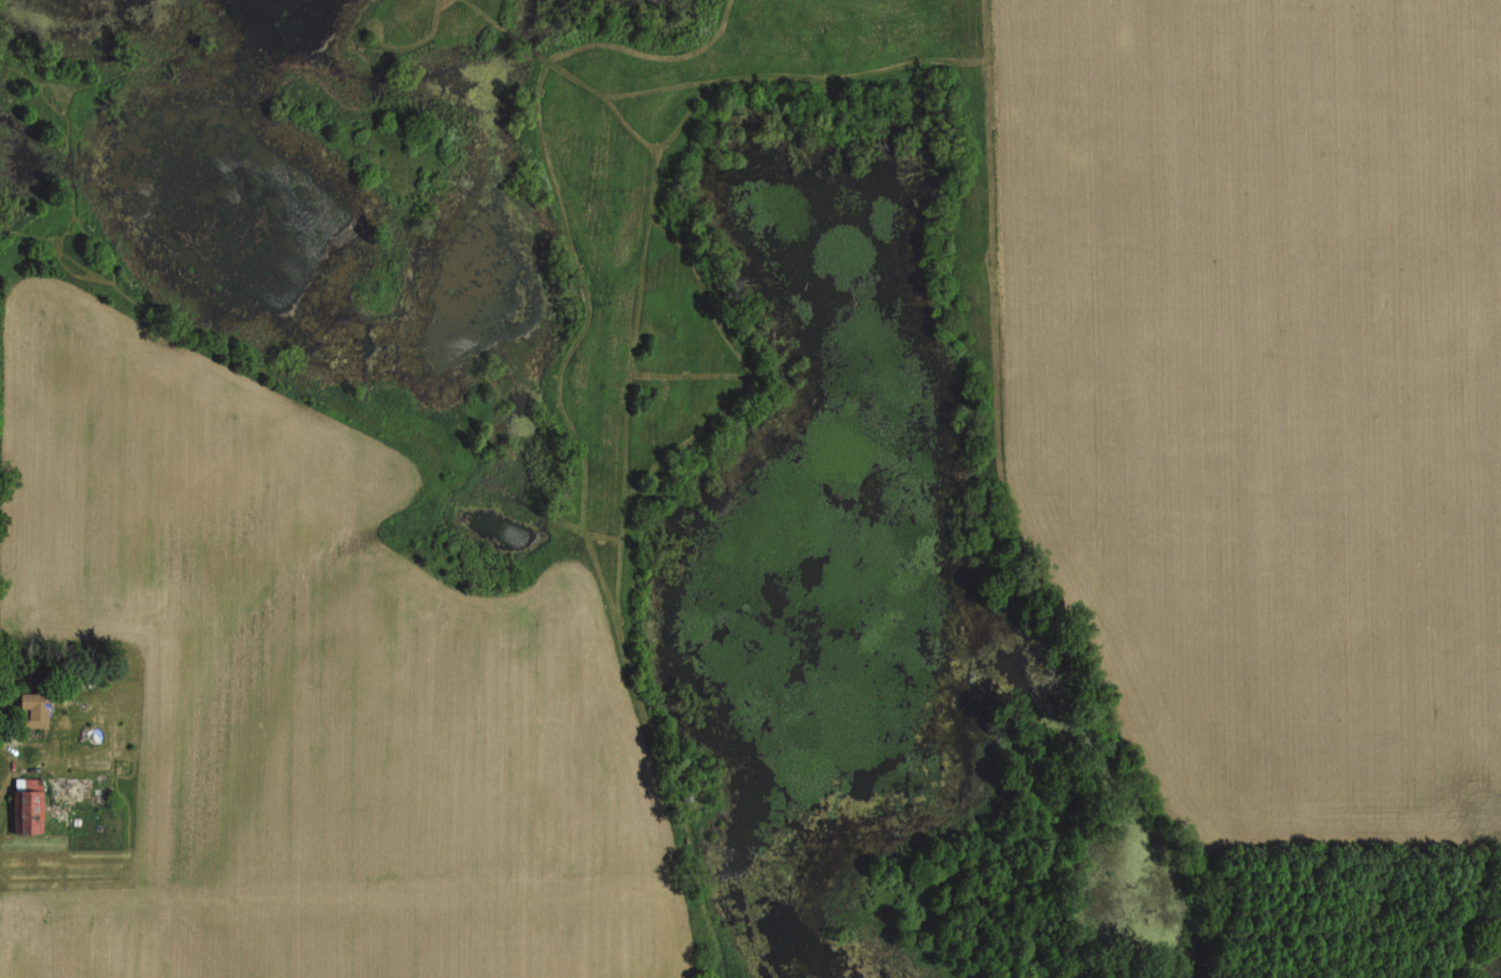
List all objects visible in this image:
crop: (1269, 390)
crop: (311, 636)
building: (38, 707)
building: (32, 805)
crop: (346, 929)

